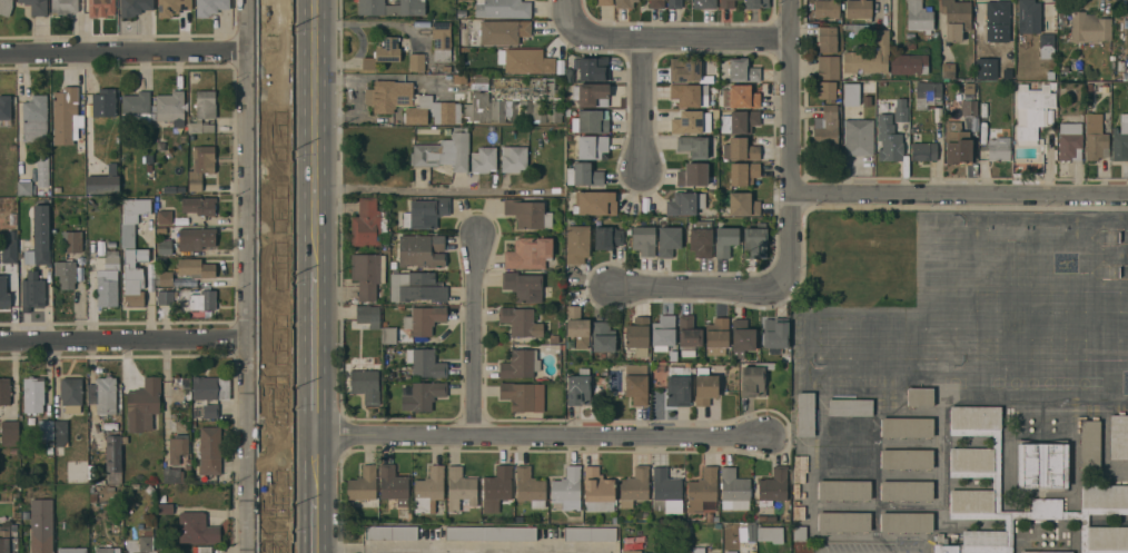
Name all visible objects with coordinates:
building: (604, 2)
building: (624, 3)
building: (656, 3)
building: (674, 3)
building: (704, 3)
building: (725, 3)
building: (756, 3)
building: (6, 7)
building: (36, 7)
building: (63, 7)
building: (102, 7)
building: (135, 7)
building: (171, 7)
building: (210, 7)
building: (390, 7)
building: (505, 8)
building: (825, 9)
building: (858, 9)
building: (997, 12)
building: (1028, 16)
building: (918, 17)
building: (954, 18)
road: (572, 20)
building: (1089, 27)
building: (499, 32)
road: (690, 36)
building: (828, 39)
building: (442, 40)
building: (1046, 43)
building: (982, 46)
building: (383, 52)
road: (126, 56)
building: (869, 56)
building: (525, 60)
building: (416, 61)
building: (908, 63)
building: (593, 68)
building: (829, 68)
building: (684, 69)
building: (947, 70)
building: (742, 71)
building: (827, 90)
building: (927, 93)
building: (388, 95)
building: (591, 95)
building: (689, 95)
building: (740, 96)
building: (967, 98)
building: (509, 99)
building: (105, 102)
road: (641, 102)
building: (170, 106)
building: (136, 108)
building: (4, 109)
building: (433, 110)
building: (202, 111)
building: (900, 111)
building: (1031, 111)
building: (65, 115)
building: (34, 118)
building: (591, 121)
building: (740, 121)
building: (691, 122)
building: (857, 122)
building: (825, 130)
building: (992, 132)
road: (315, 136)
building: (1095, 138)
building: (888, 139)
building: (1120, 139)
building: (957, 142)
building: (1069, 142)
road: (793, 144)
building: (693, 146)
building: (593, 147)
building: (740, 149)
building: (444, 151)
building: (923, 151)
building: (148, 158)
building: (513, 158)
building: (483, 159)
building: (200, 165)
building: (149, 167)
building: (112, 168)
building: (42, 171)
building: (743, 172)
building: (583, 175)
building: (692, 175)
building: (102, 184)
building: (24, 188)
road: (960, 188)
building: (57, 189)
building: (172, 189)
building: (181, 189)
road: (431, 190)
building: (594, 203)
building: (685, 203)
building: (742, 204)
building: (199, 205)
building: (425, 213)
building: (527, 214)
building: (165, 217)
building: (132, 219)
building: (367, 224)
building: (158, 230)
building: (39, 237)
building: (197, 237)
building: (607, 237)
building: (643, 240)
building: (669, 240)
building: (701, 240)
building: (724, 240)
building: (576, 241)
building: (754, 241)
building: (72, 243)
building: (111, 244)
building: (165, 246)
building: (9, 250)
building: (420, 250)
building: (528, 253)
building: (196, 268)
building: (66, 273)
building: (367, 274)
building: (133, 276)
road: (250, 276)
building: (107, 278)
building: (164, 278)
building: (523, 286)
building: (416, 287)
road: (701, 288)
building: (32, 289)
building: (3, 292)
building: (165, 297)
building: (202, 300)
building: (368, 315)
building: (423, 319)
building: (520, 322)
building: (576, 328)
building: (663, 332)
building: (387, 333)
building: (716, 334)
building: (775, 334)
building: (637, 335)
building: (689, 335)
building: (602, 336)
road: (476, 337)
building: (742, 337)
road: (125, 340)
road: (315, 354)
building: (426, 363)
building: (520, 364)
building: (754, 378)
building: (181, 379)
building: (635, 383)
building: (365, 385)
building: (679, 385)
building: (210, 387)
building: (578, 387)
building: (705, 388)
building: (70, 394)
building: (33, 395)
building: (105, 395)
building: (423, 395)
building: (523, 396)
building: (920, 396)
building: (144, 405)
building: (850, 407)
building: (210, 411)
building: (0, 412)
building: (805, 414)
building: (30, 422)
building: (850, 426)
building: (906, 427)
building: (117, 428)
building: (46, 429)
building: (61, 433)
building: (97, 434)
road: (538, 435)
building: (1119, 436)
building: (1089, 446)
building: (177, 450)
building: (59, 451)
building: (210, 451)
building: (113, 458)
building: (849, 458)
building: (907, 458)
building: (1041, 465)
building: (800, 468)
building: (93, 472)
building: (171, 475)
building: (996, 481)
building: (393, 484)
building: (635, 484)
building: (773, 486)
building: (364, 487)
building: (459, 487)
building: (530, 487)
building: (567, 487)
building: (496, 488)
building: (428, 490)
building: (734, 490)
building: (844, 490)
building: (907, 490)
road: (315, 491)
building: (597, 491)
building: (665, 491)
building: (702, 491)
building: (0, 493)
building: (162, 497)
building: (165, 508)
building: (26, 512)
building: (843, 521)
building: (906, 522)
building: (41, 525)
building: (196, 529)
building: (148, 531)
building: (390, 533)
building: (491, 533)
building: (799, 533)
building: (590, 534)
building: (770, 534)
building: (8, 540)
building: (146, 544)
road: (466, 547)
building: (71, 550)
building: (107, 550)
building: (201, 550)
road: (315, 550)
building: (697, 550)
building: (631, 551)
building: (677, 552)
building: (730, 552)
building: (1046, 552)

